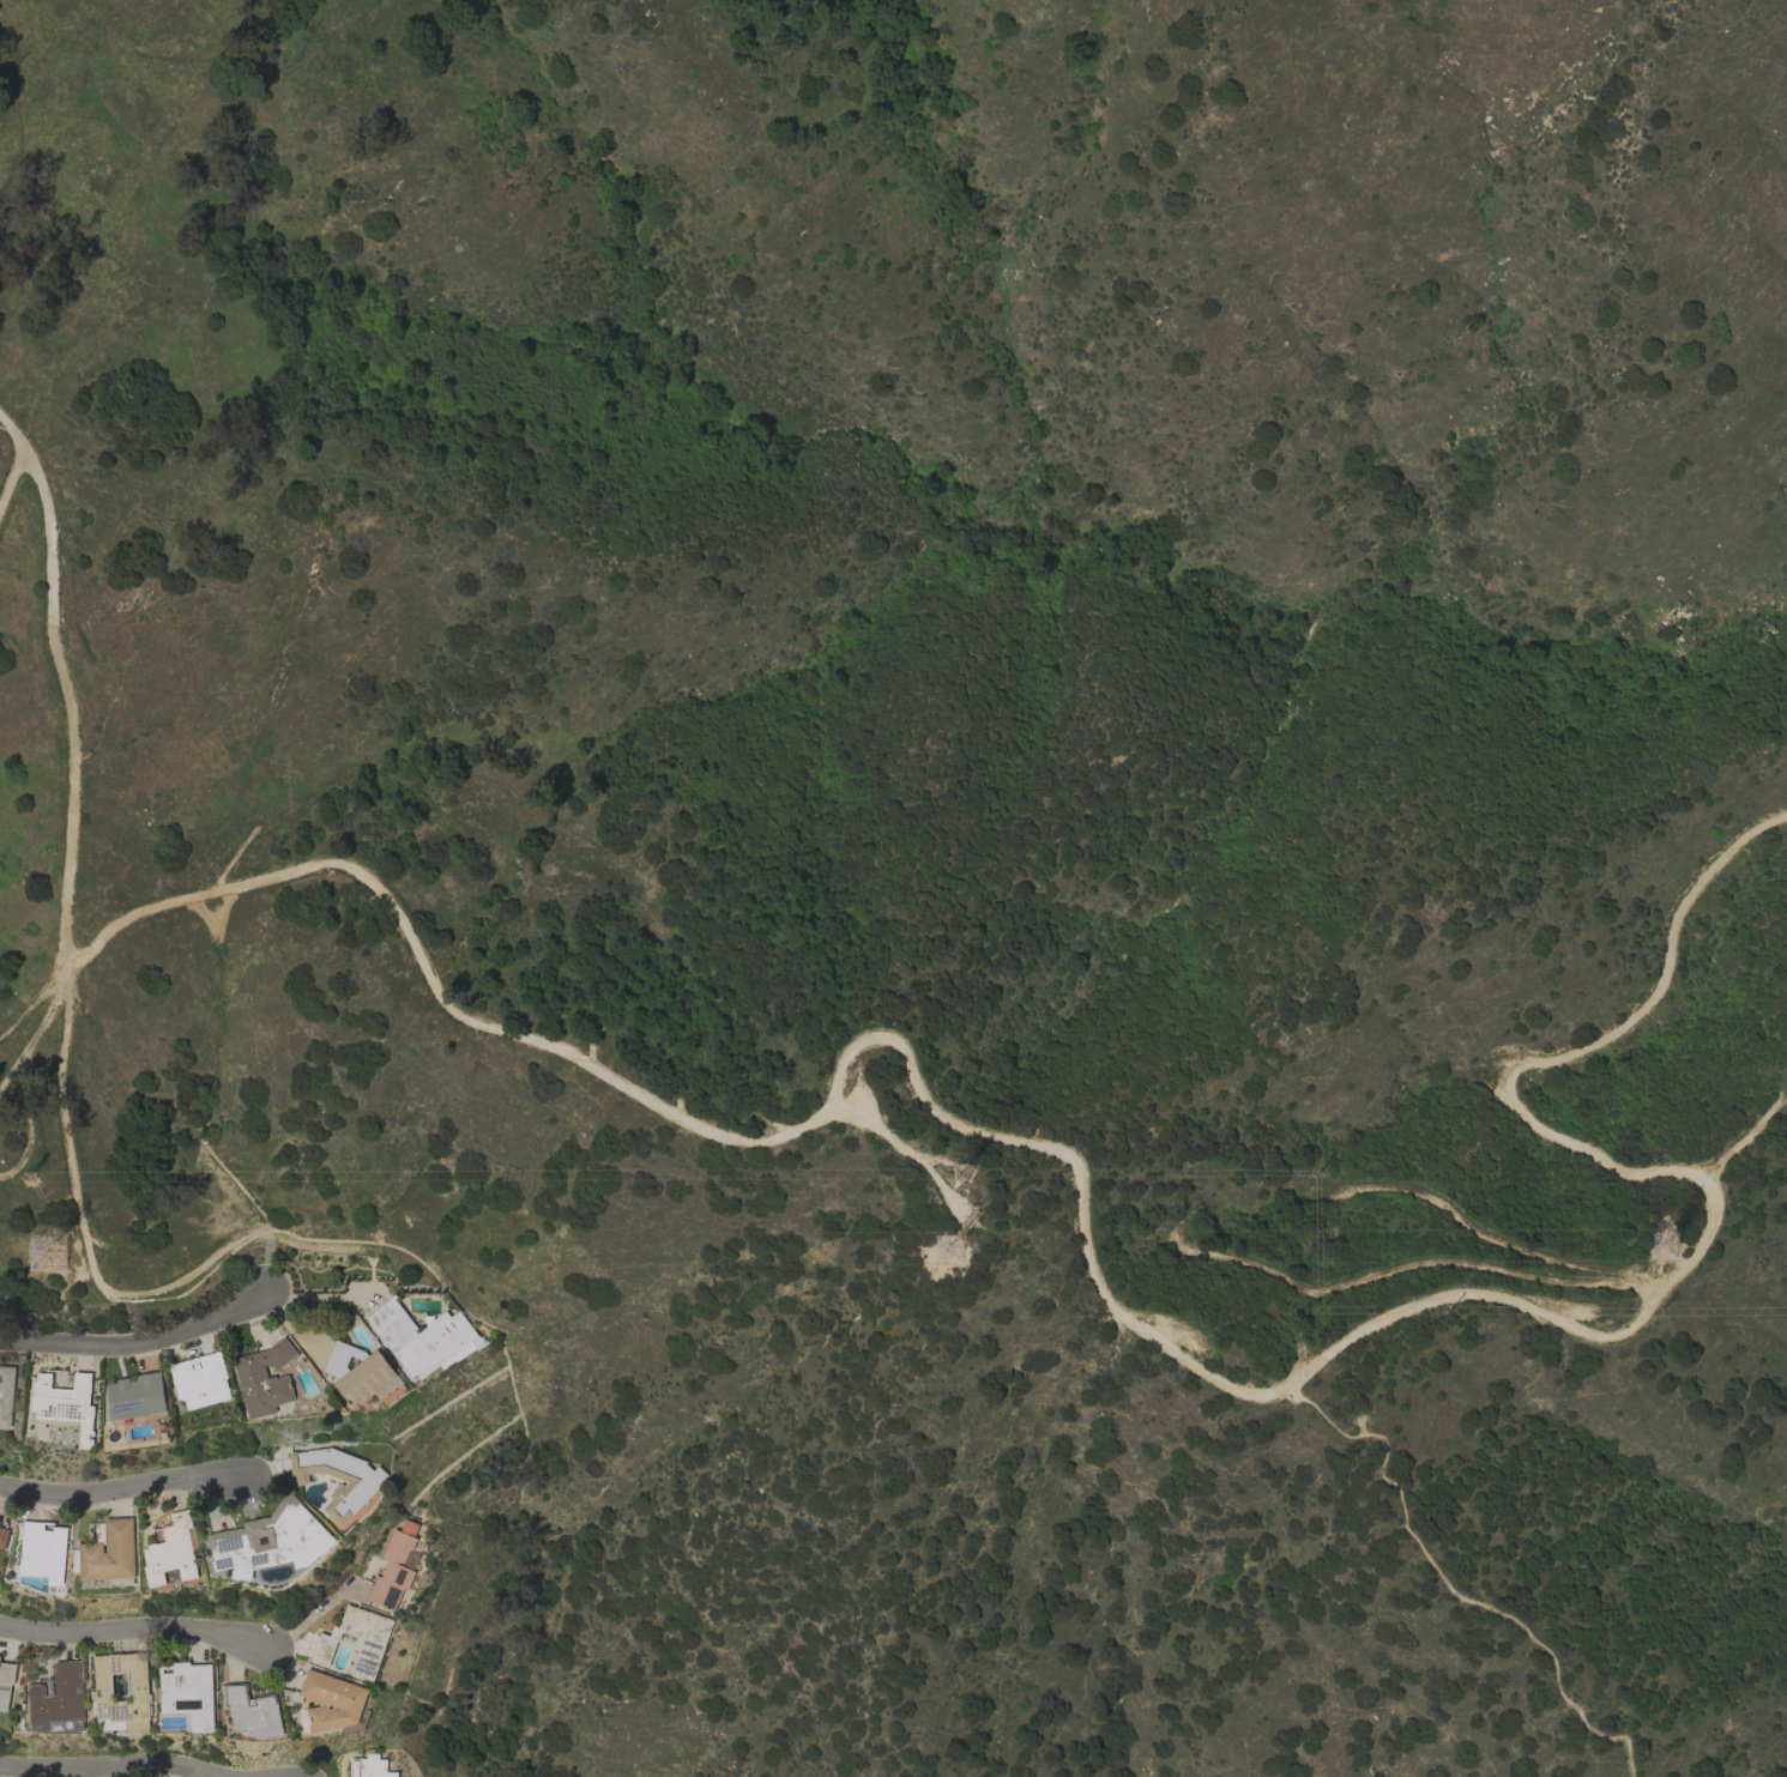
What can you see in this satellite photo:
road: (11, 480)
road: (66, 923)
power tower: (30, 1175)
power tower: (966, 1177)
power tower: (1666, 1246)
road: (268, 1250)
power tower: (950, 1253)
power tower: (49, 1256)
road: (1127, 1318)
building: (421, 1337)
road: (138, 1340)
building: (357, 1371)
building: (200, 1379)
building: (265, 1380)
building: (6, 1395)
building: (135, 1396)
building: (64, 1400)
building: (338, 1479)
road: (129, 1483)
building: (2, 1536)
building: (270, 1540)
building: (173, 1551)
building: (43, 1552)
building: (107, 1554)
building: (393, 1570)
road: (1447, 1586)
road: (309, 1614)
road: (132, 1628)
building: (356, 1640)
building: (0, 1656)
building: (6, 1684)
building: (189, 1693)
building: (102, 1697)
building: (59, 1699)
building: (330, 1702)
building: (252, 1711)
road: (107, 1765)
building: (369, 1766)

